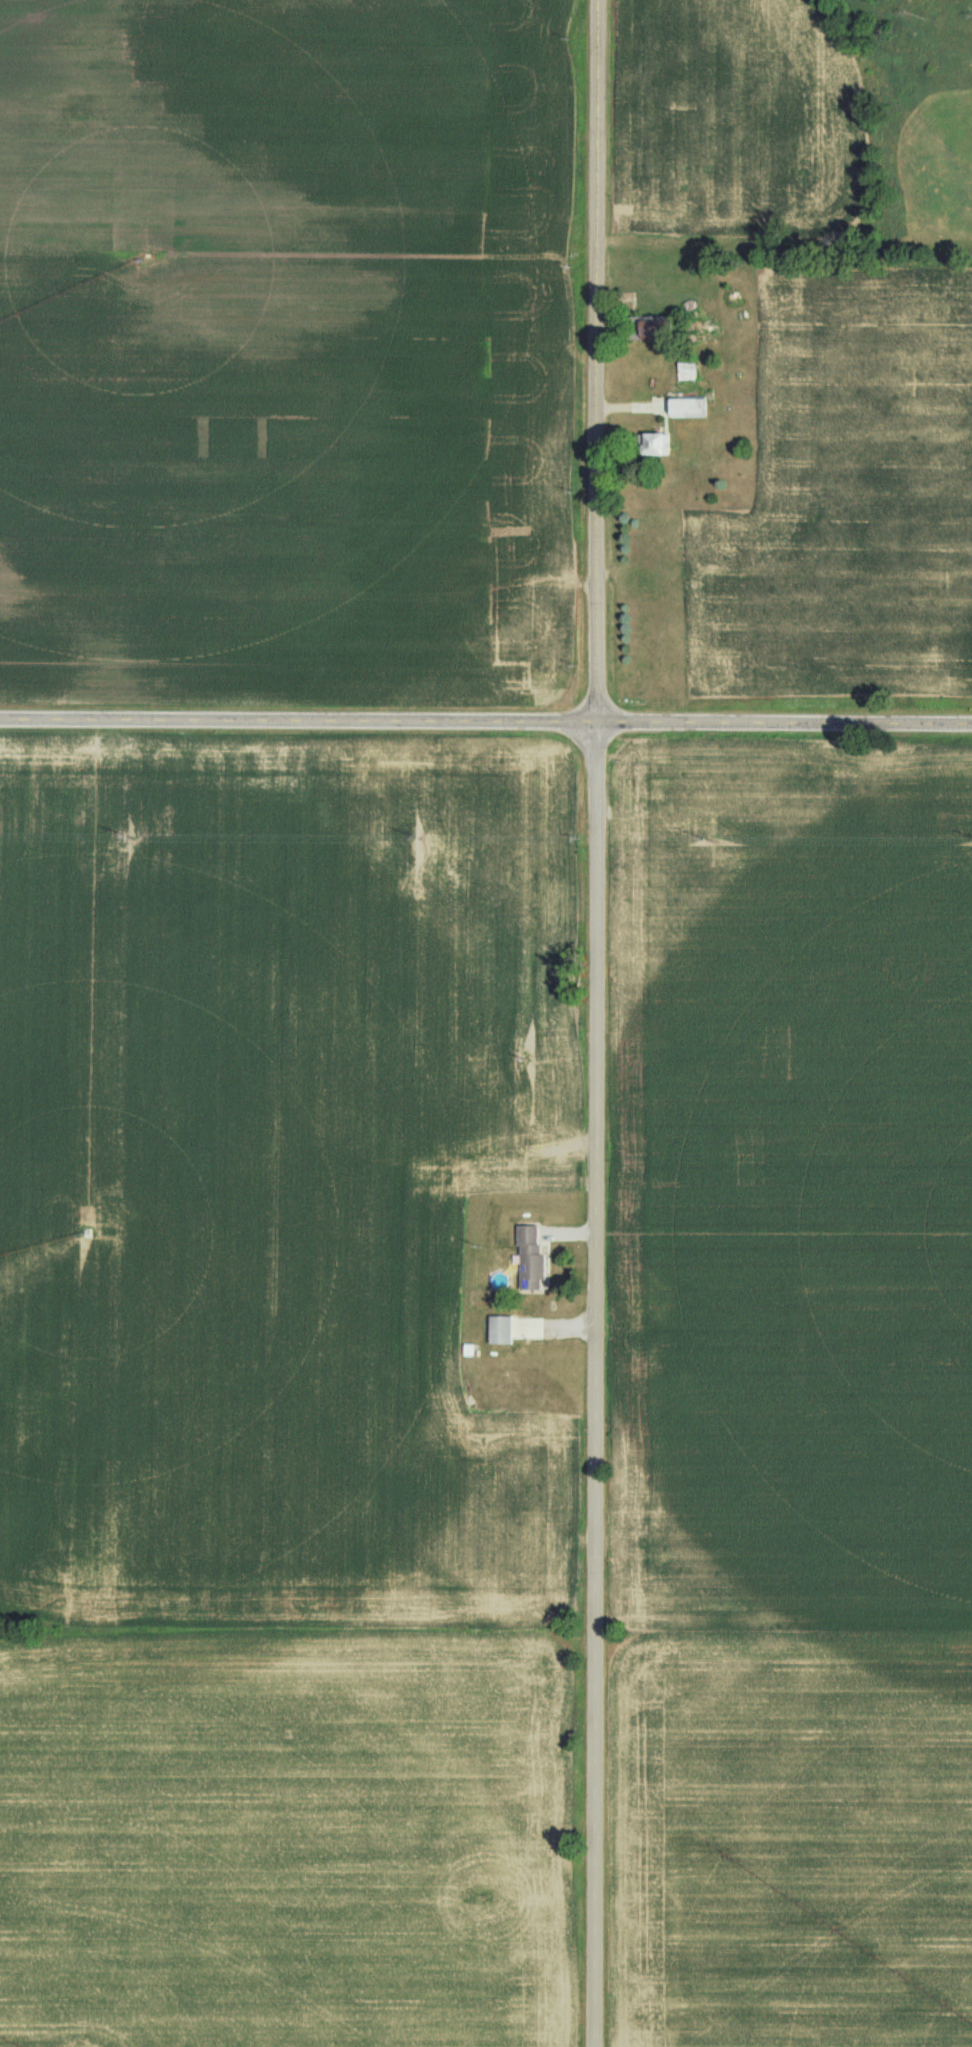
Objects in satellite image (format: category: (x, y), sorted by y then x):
building: (643, 328)
building: (686, 407)
road: (486, 715)
road: (647, 749)
power tower: (133, 837)
power tower: (419, 837)
power tower: (711, 841)
road: (596, 1023)
building: (528, 1255)
building: (500, 1329)

